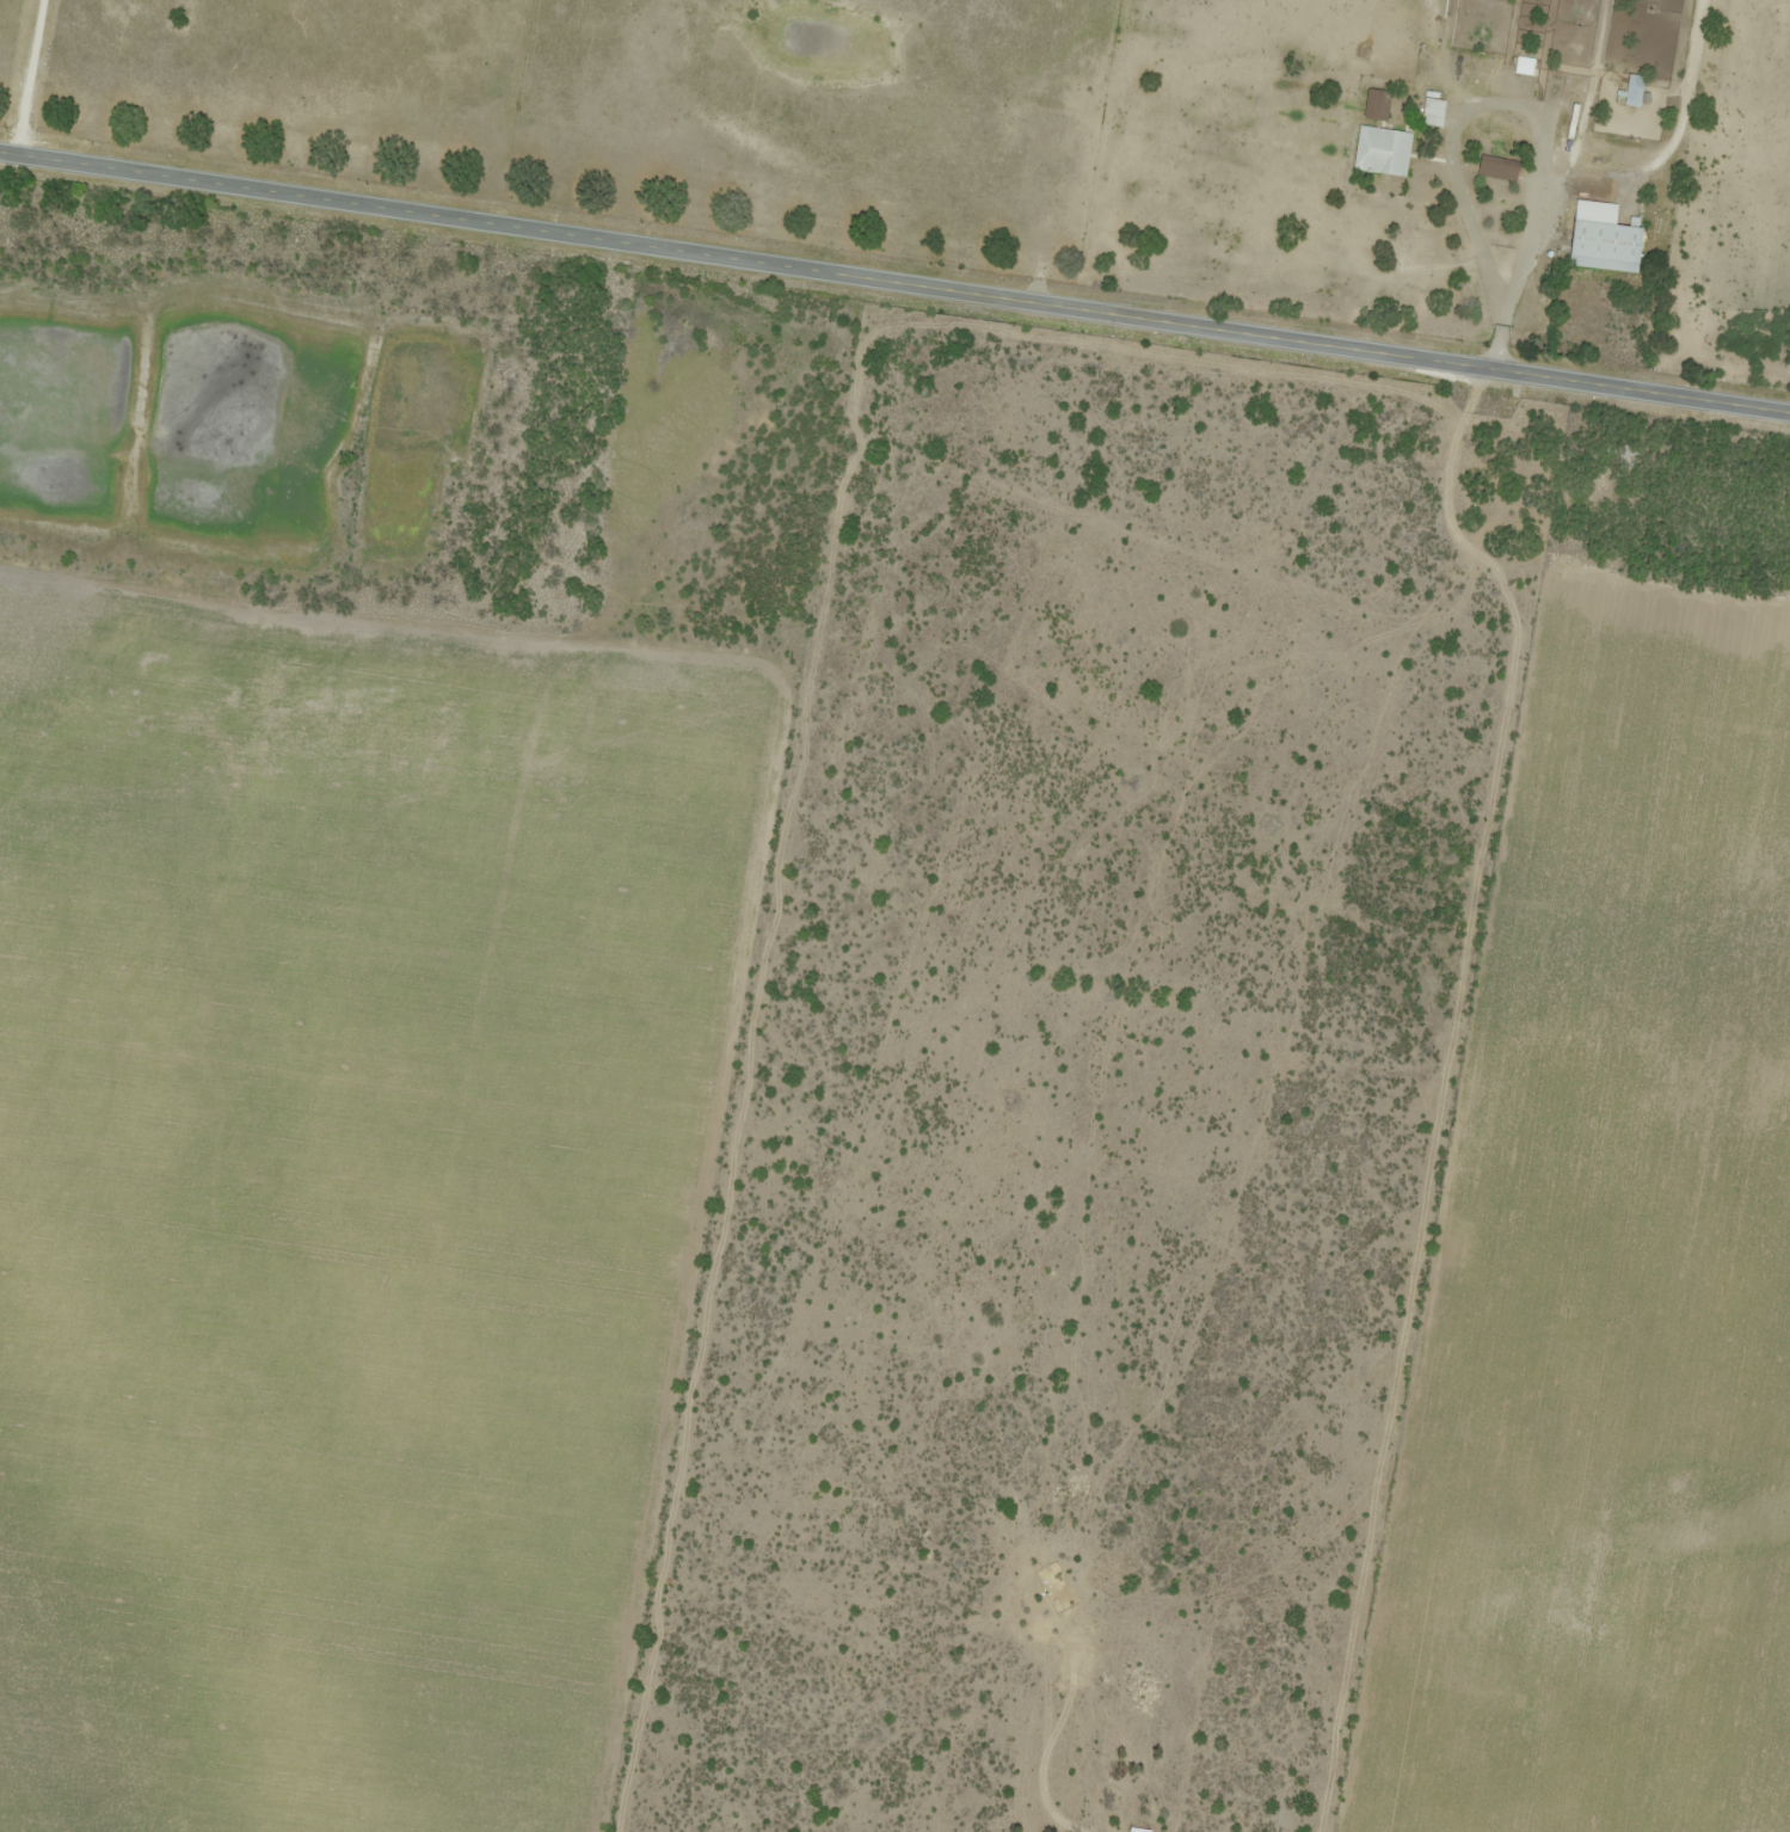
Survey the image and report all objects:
building: (1632, 88)
building: (1374, 103)
building: (1431, 109)
building: (1379, 148)
road: (1549, 155)
building: (1496, 166)
building: (1601, 236)
road: (894, 287)
building: (1620, 454)
building: (1137, 1828)

